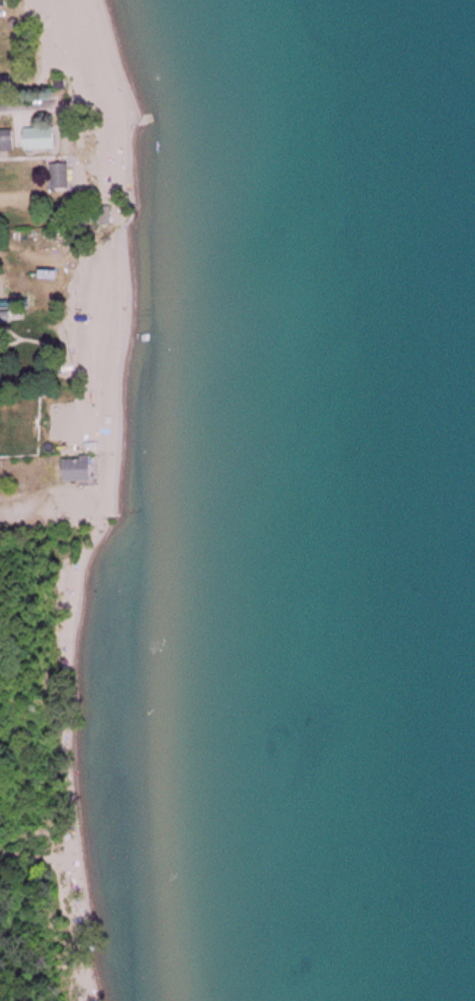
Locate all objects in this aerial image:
building: (3, 3)
building: (7, 85)
road: (33, 104)
building: (36, 139)
building: (9, 141)
building: (65, 176)
building: (0, 425)
building: (83, 470)
road: (37, 513)
park: (79, 762)

